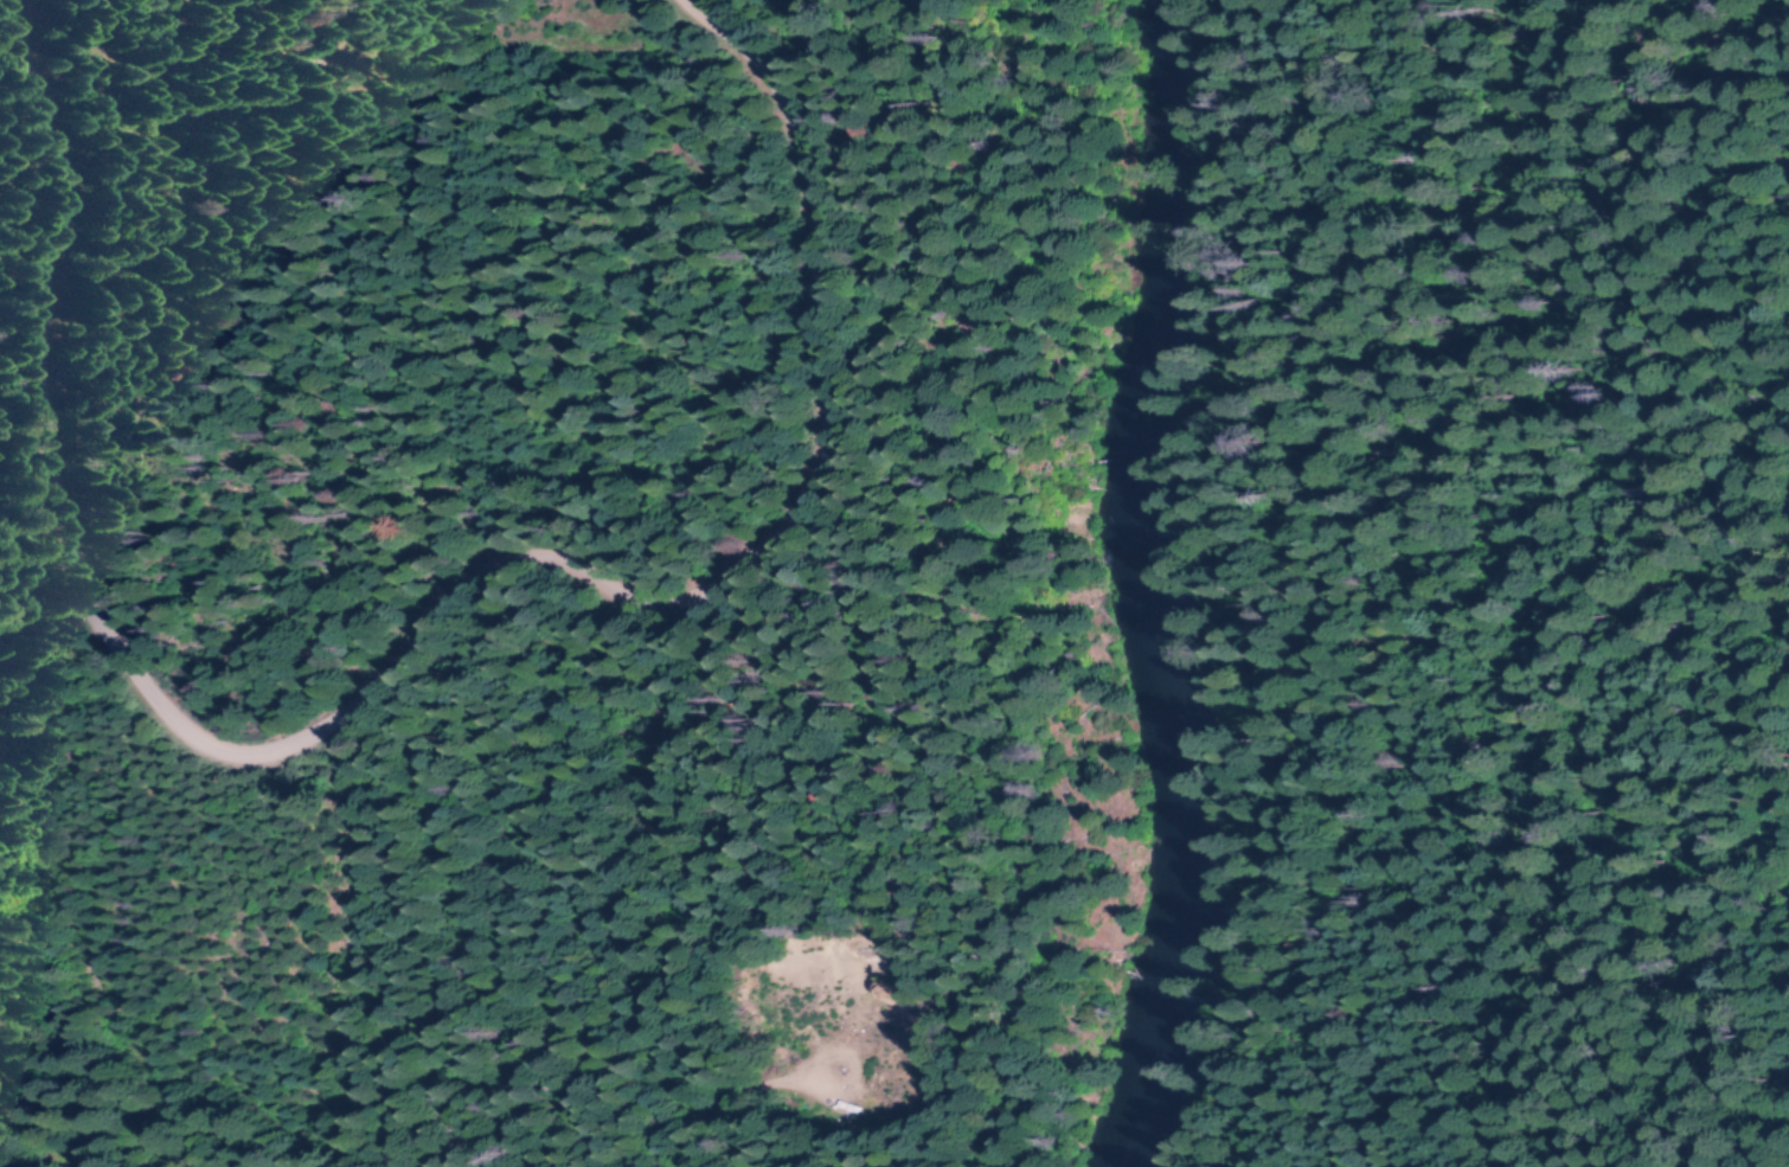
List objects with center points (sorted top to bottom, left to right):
road: (1301, 552)
river: (1165, 586)
road: (404, 637)

